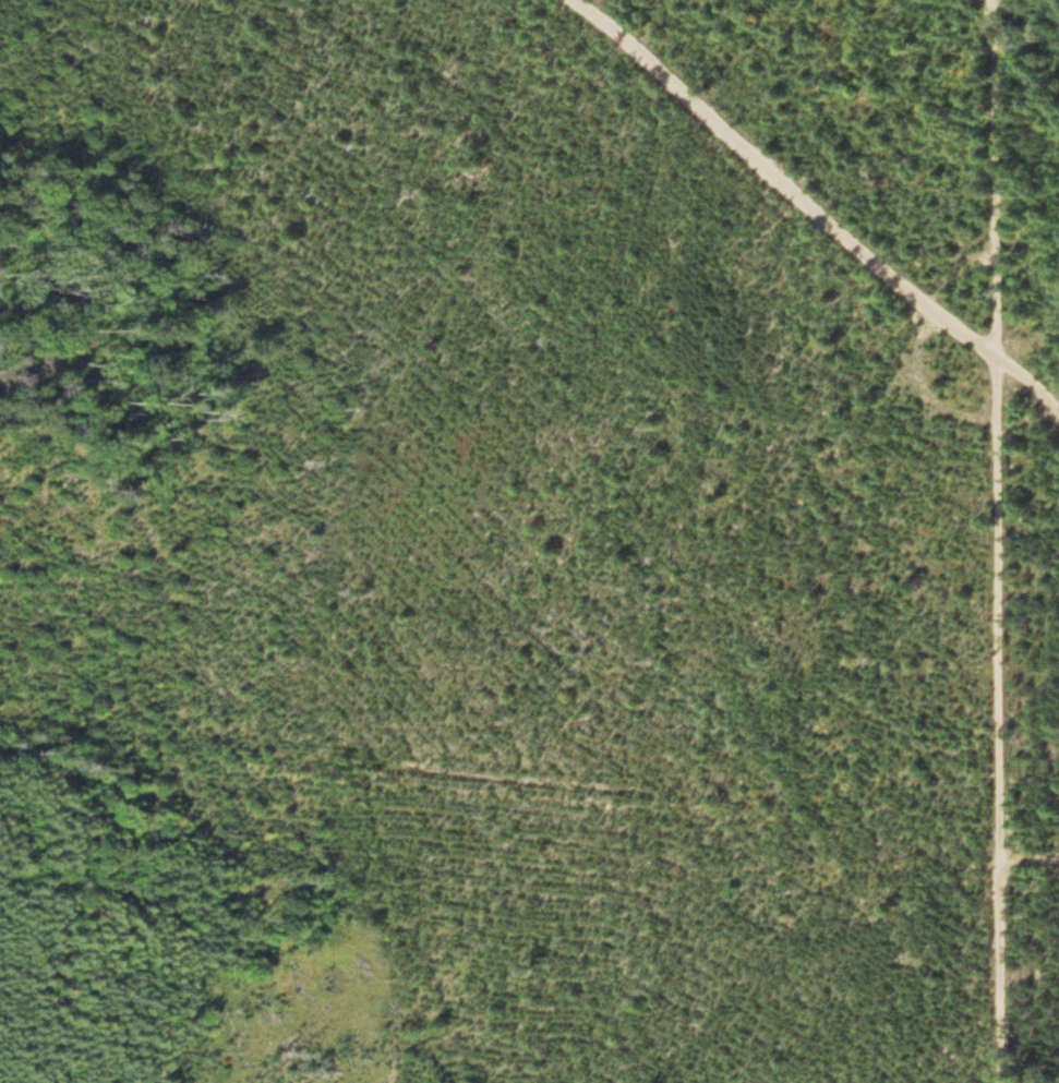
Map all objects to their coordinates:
road: (789, 179)
road: (1030, 387)
road: (1002, 541)
road: (1033, 859)

